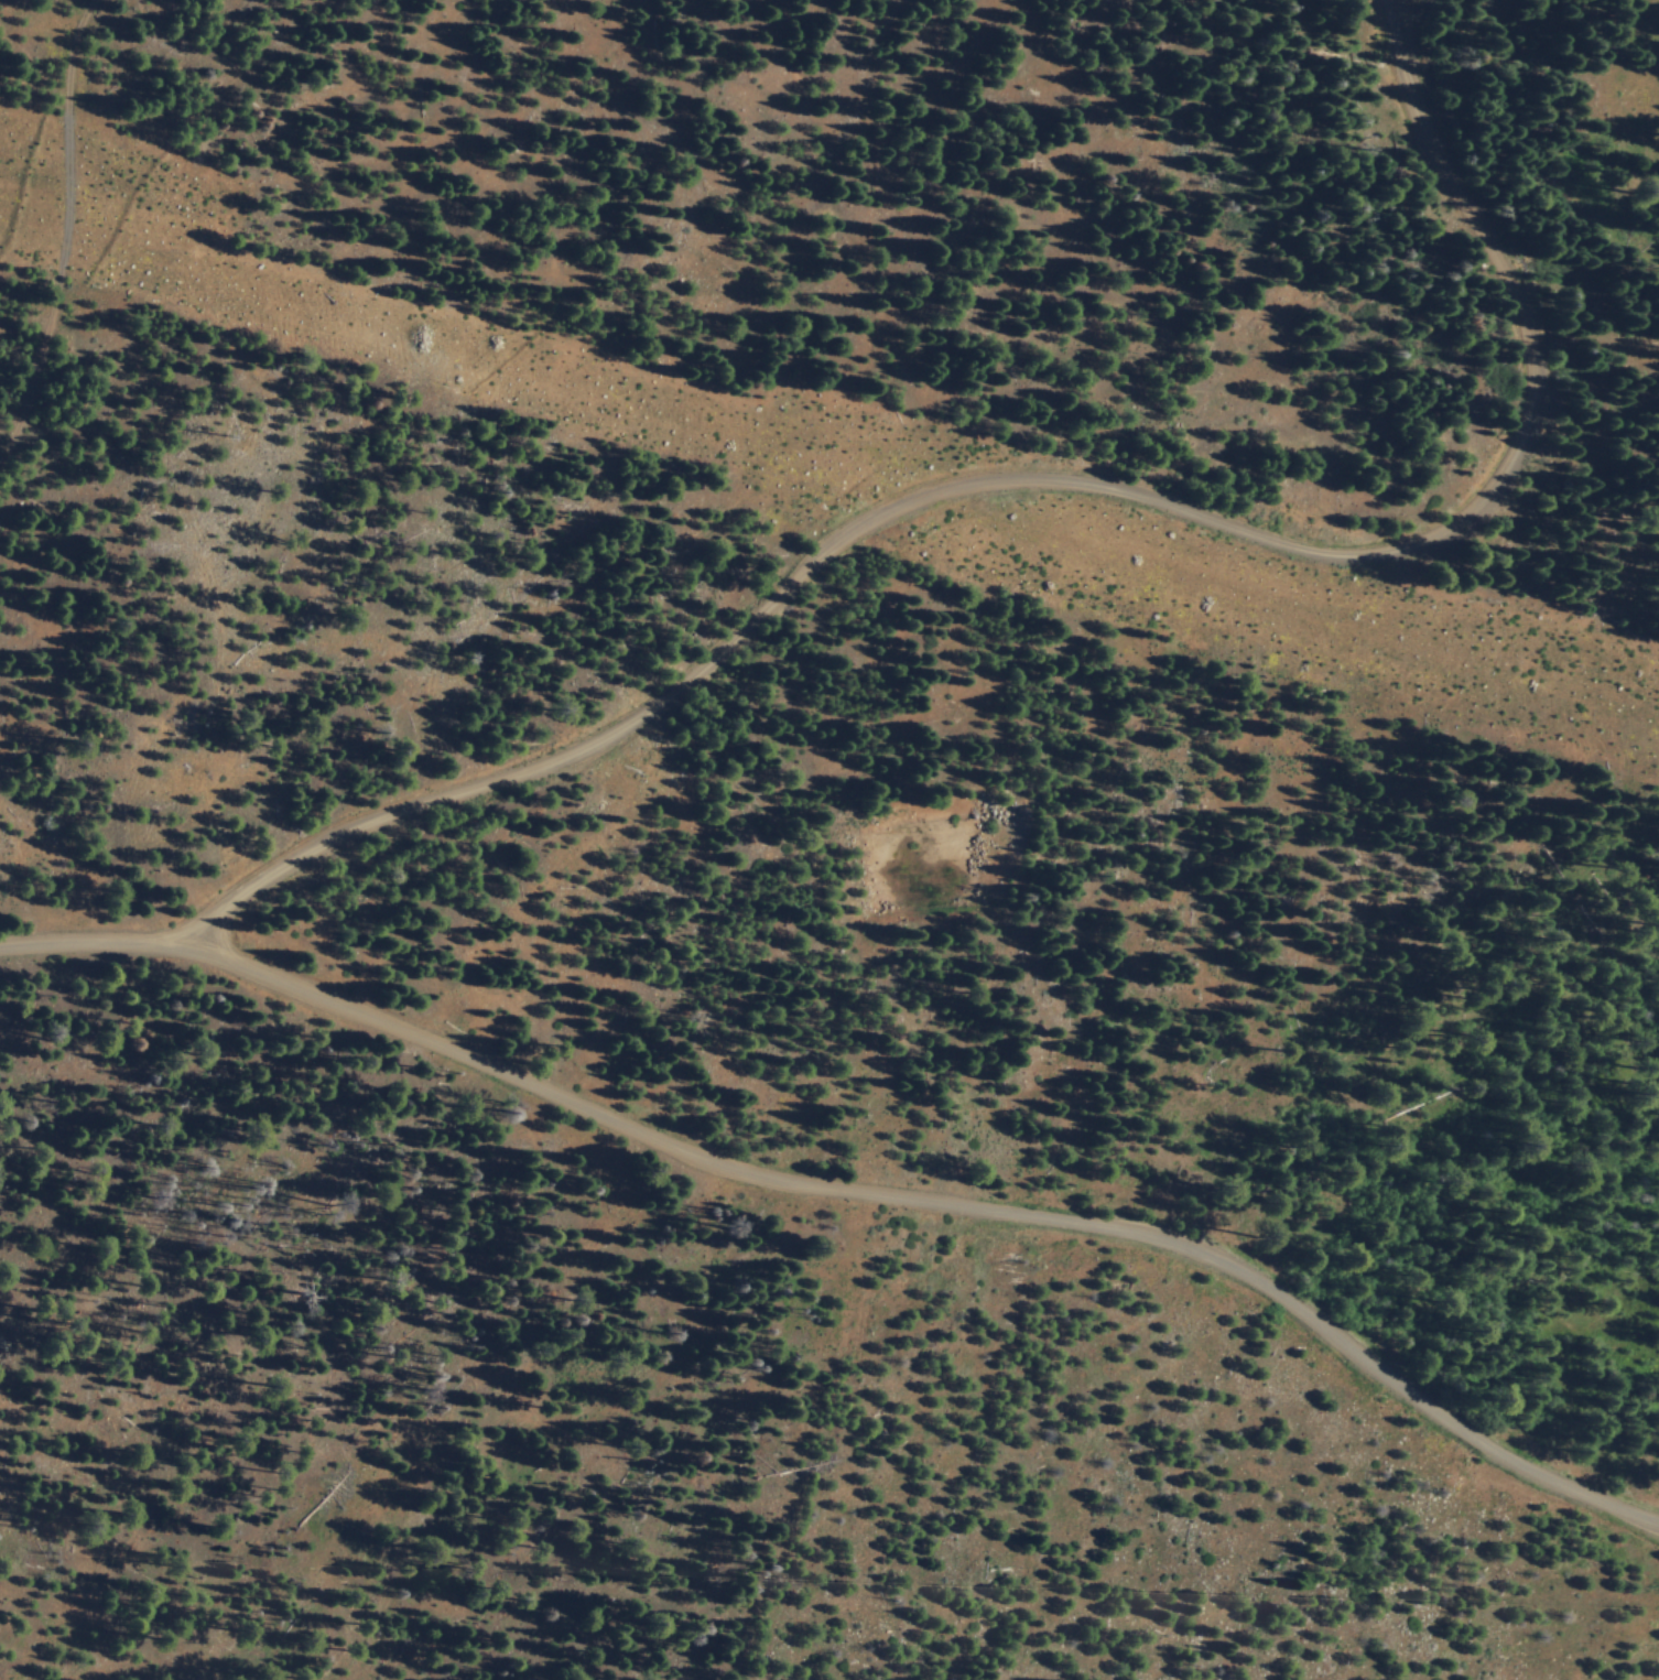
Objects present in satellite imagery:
road: (76, 218)
road: (1050, 485)
road: (846, 1191)

